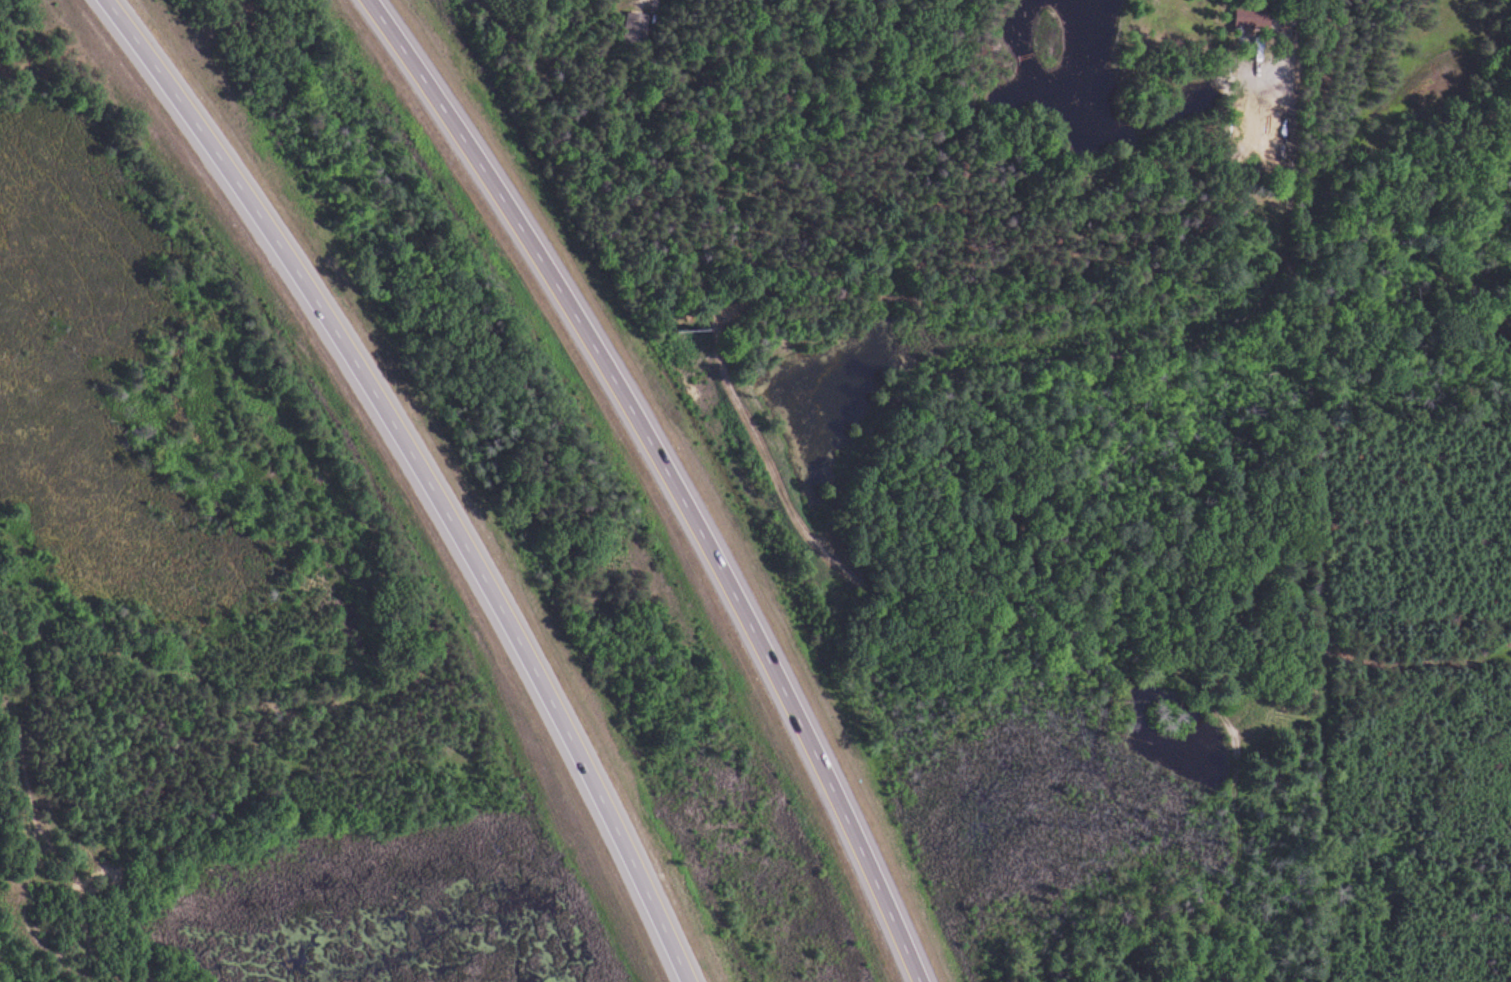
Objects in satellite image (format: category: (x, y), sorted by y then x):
building: (637, 29)
road: (427, 473)
road: (671, 474)

